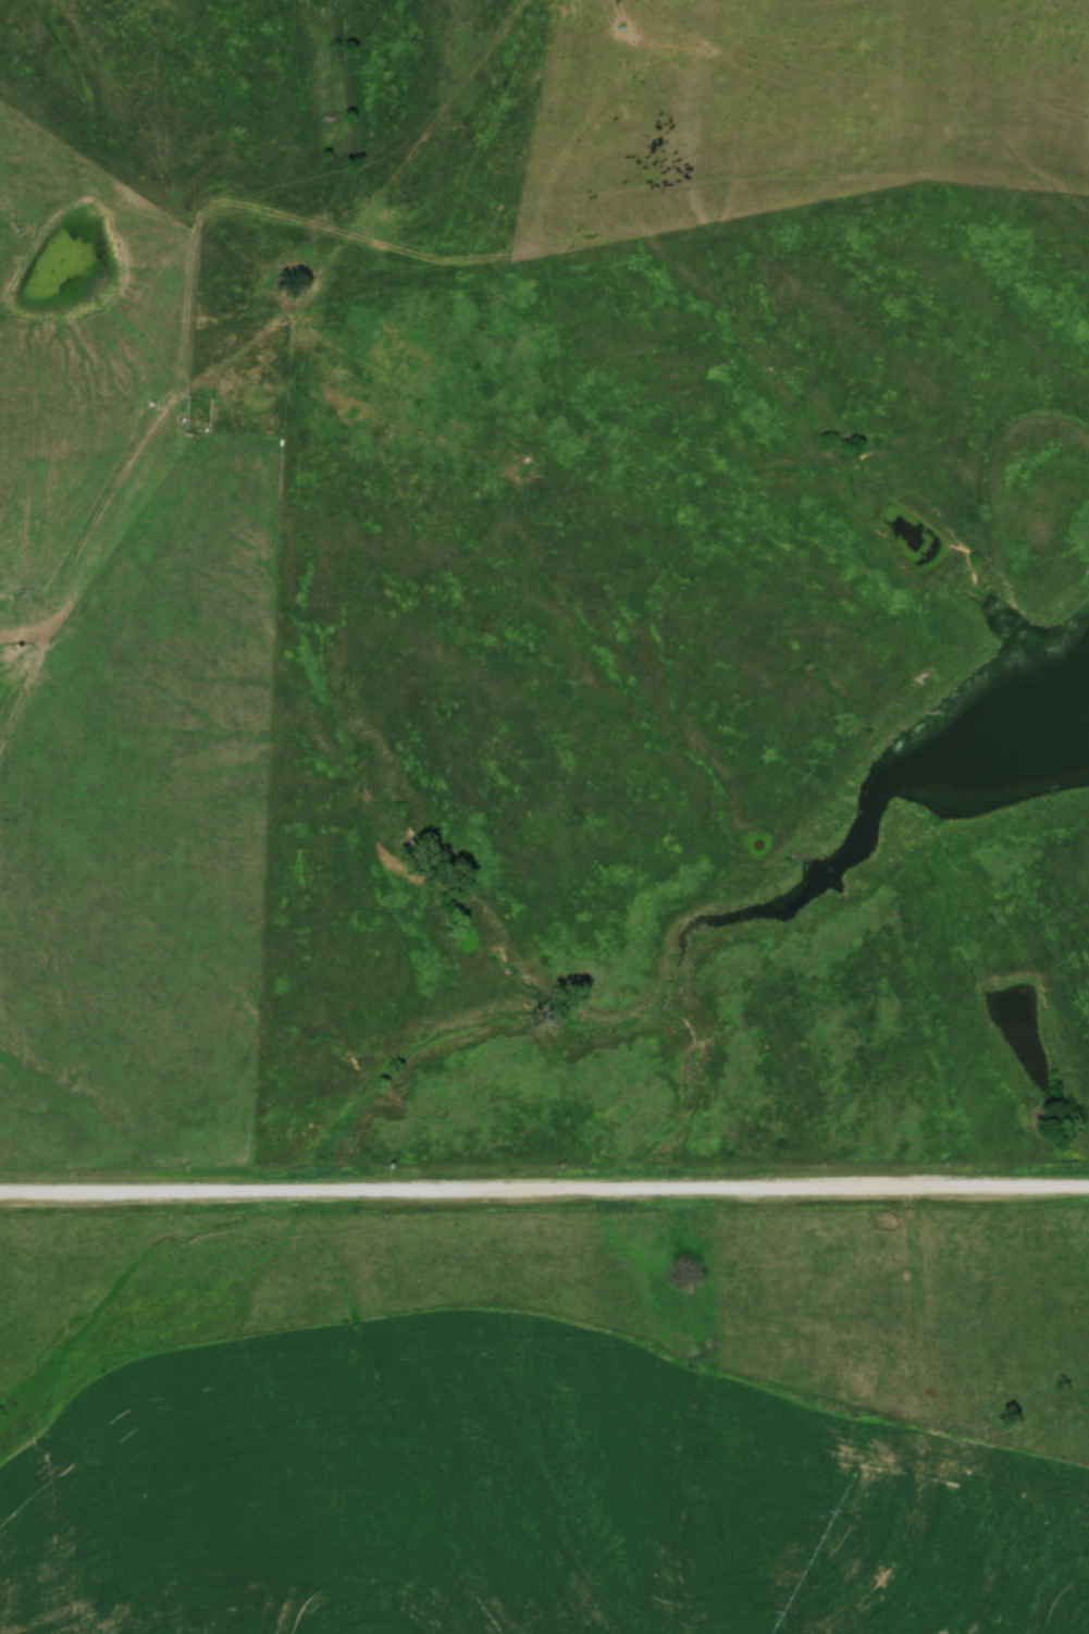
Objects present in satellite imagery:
road: (544, 1191)
road: (921, 1298)

